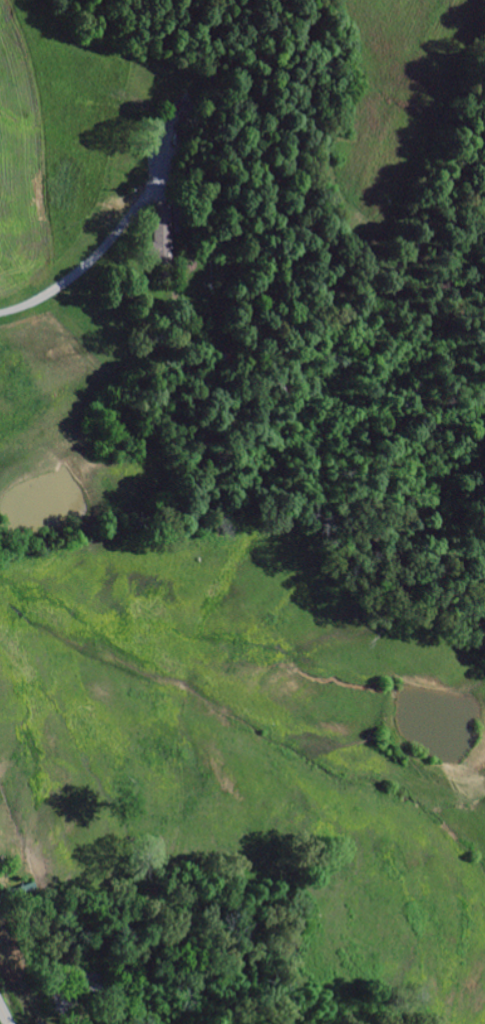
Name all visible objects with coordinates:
building: (163, 235)
road: (5, 1014)

